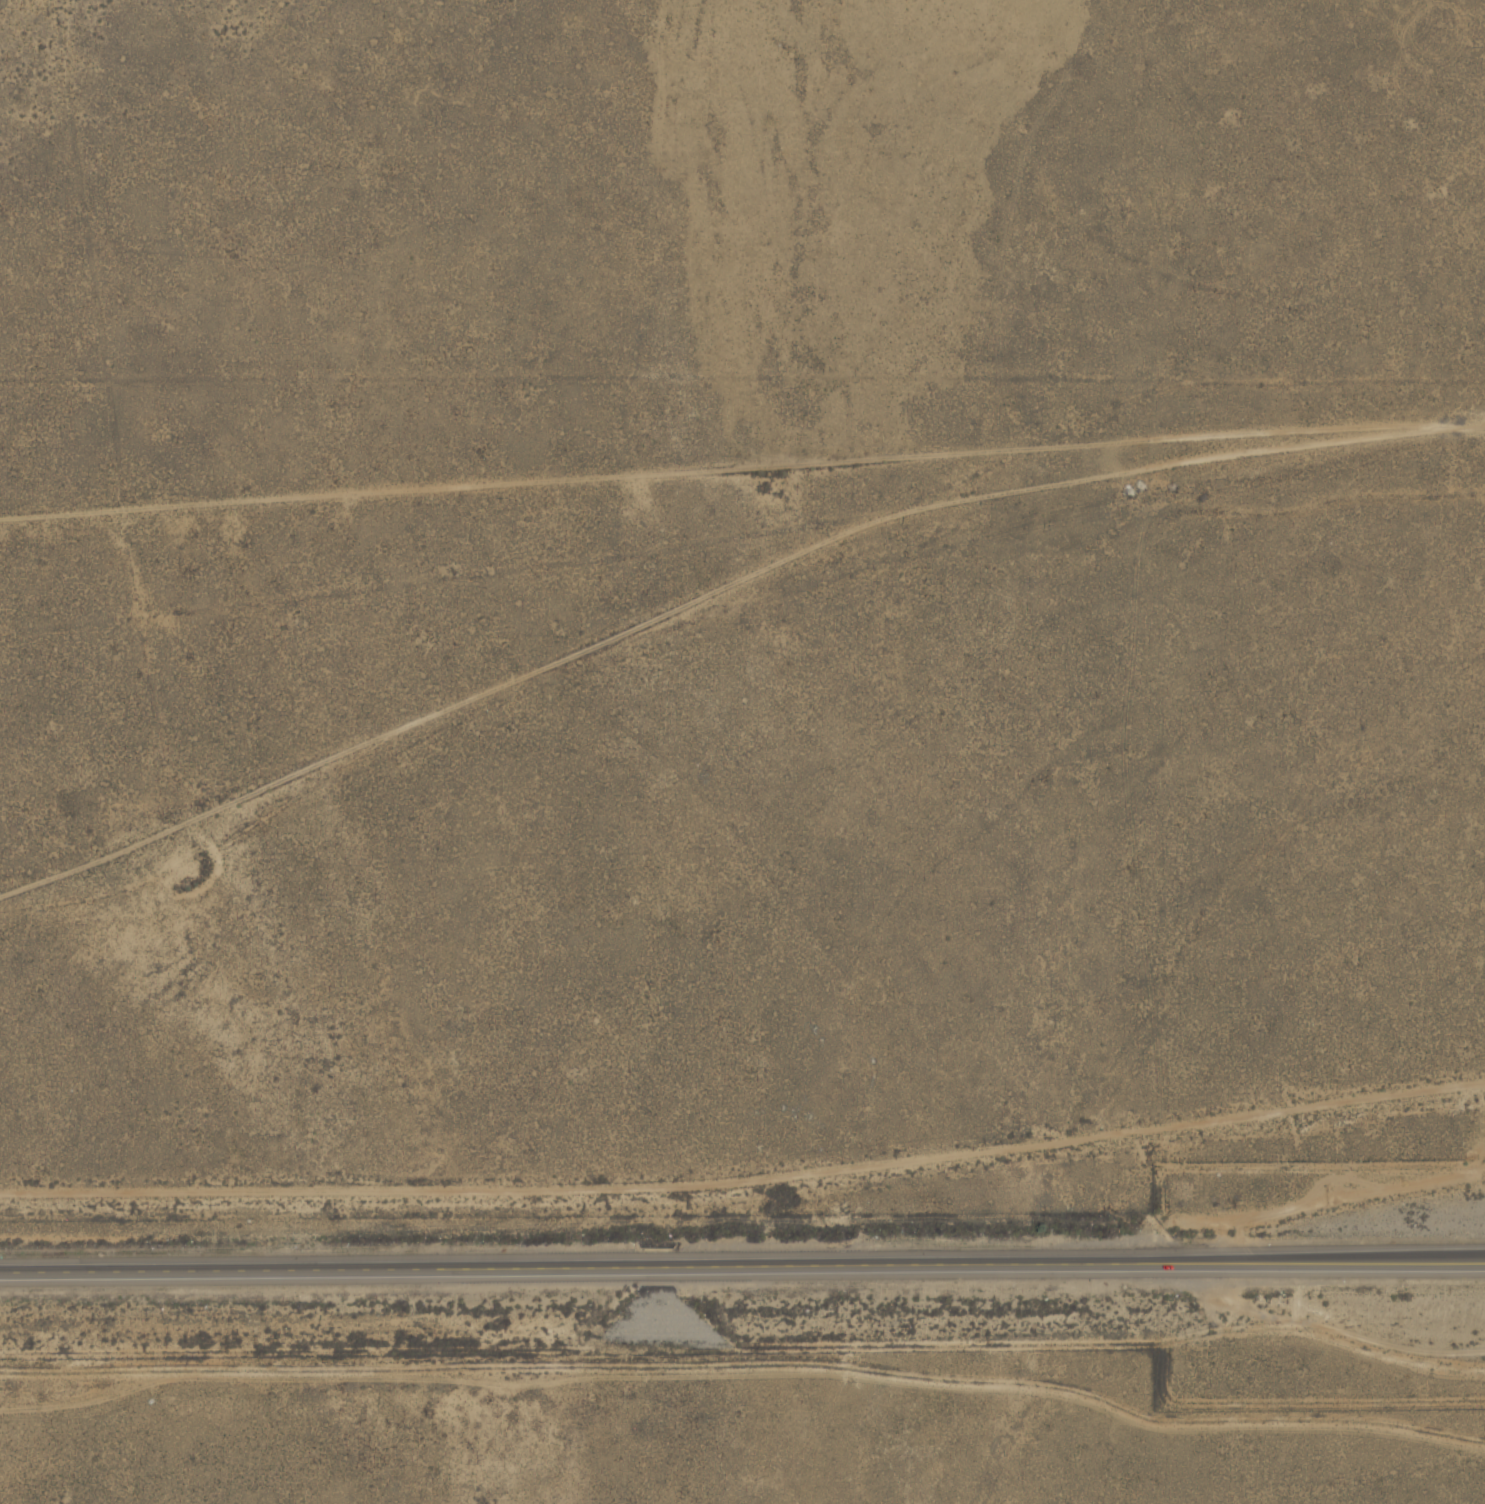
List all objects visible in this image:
road: (742, 1264)

